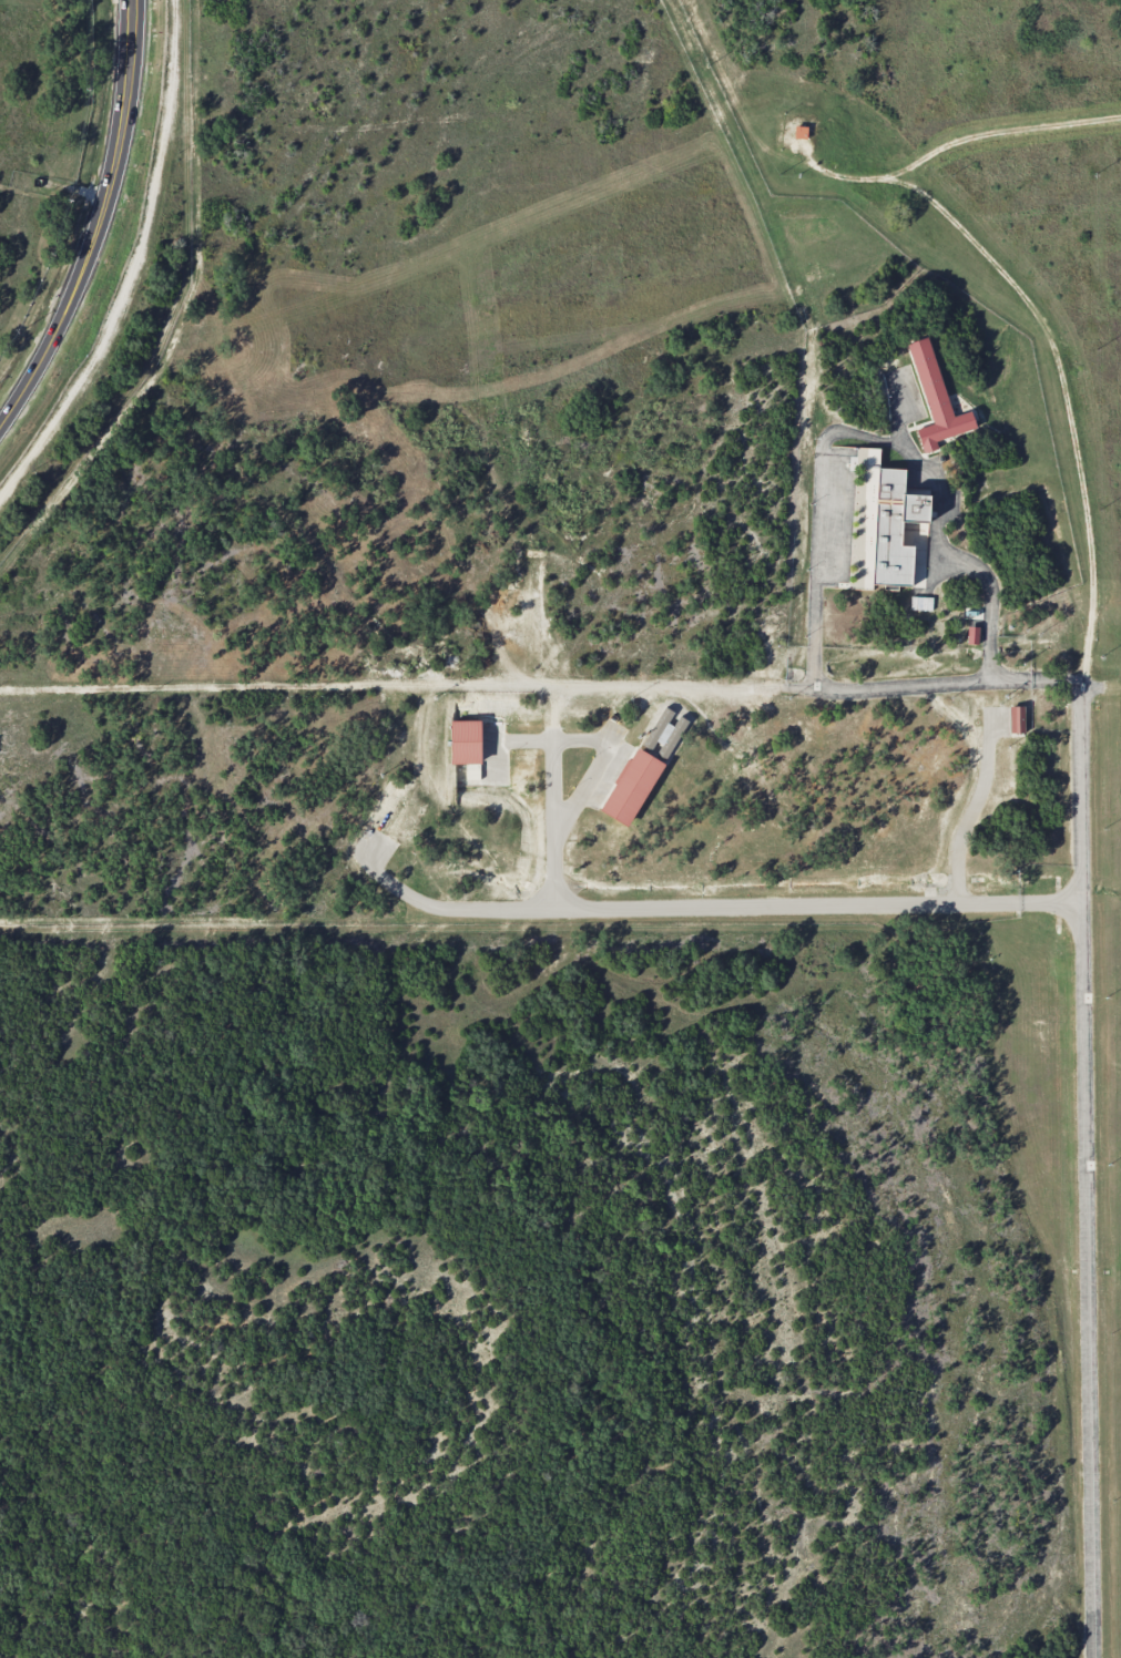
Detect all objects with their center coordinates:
building: (799, 132)
road: (98, 222)
building: (936, 399)
building: (868, 511)
road: (819, 513)
building: (921, 603)
building: (972, 635)
road: (662, 686)
building: (1016, 719)
building: (665, 733)
building: (466, 741)
road: (595, 764)
building: (632, 786)
road: (553, 822)
road: (710, 907)
road: (1084, 1169)

